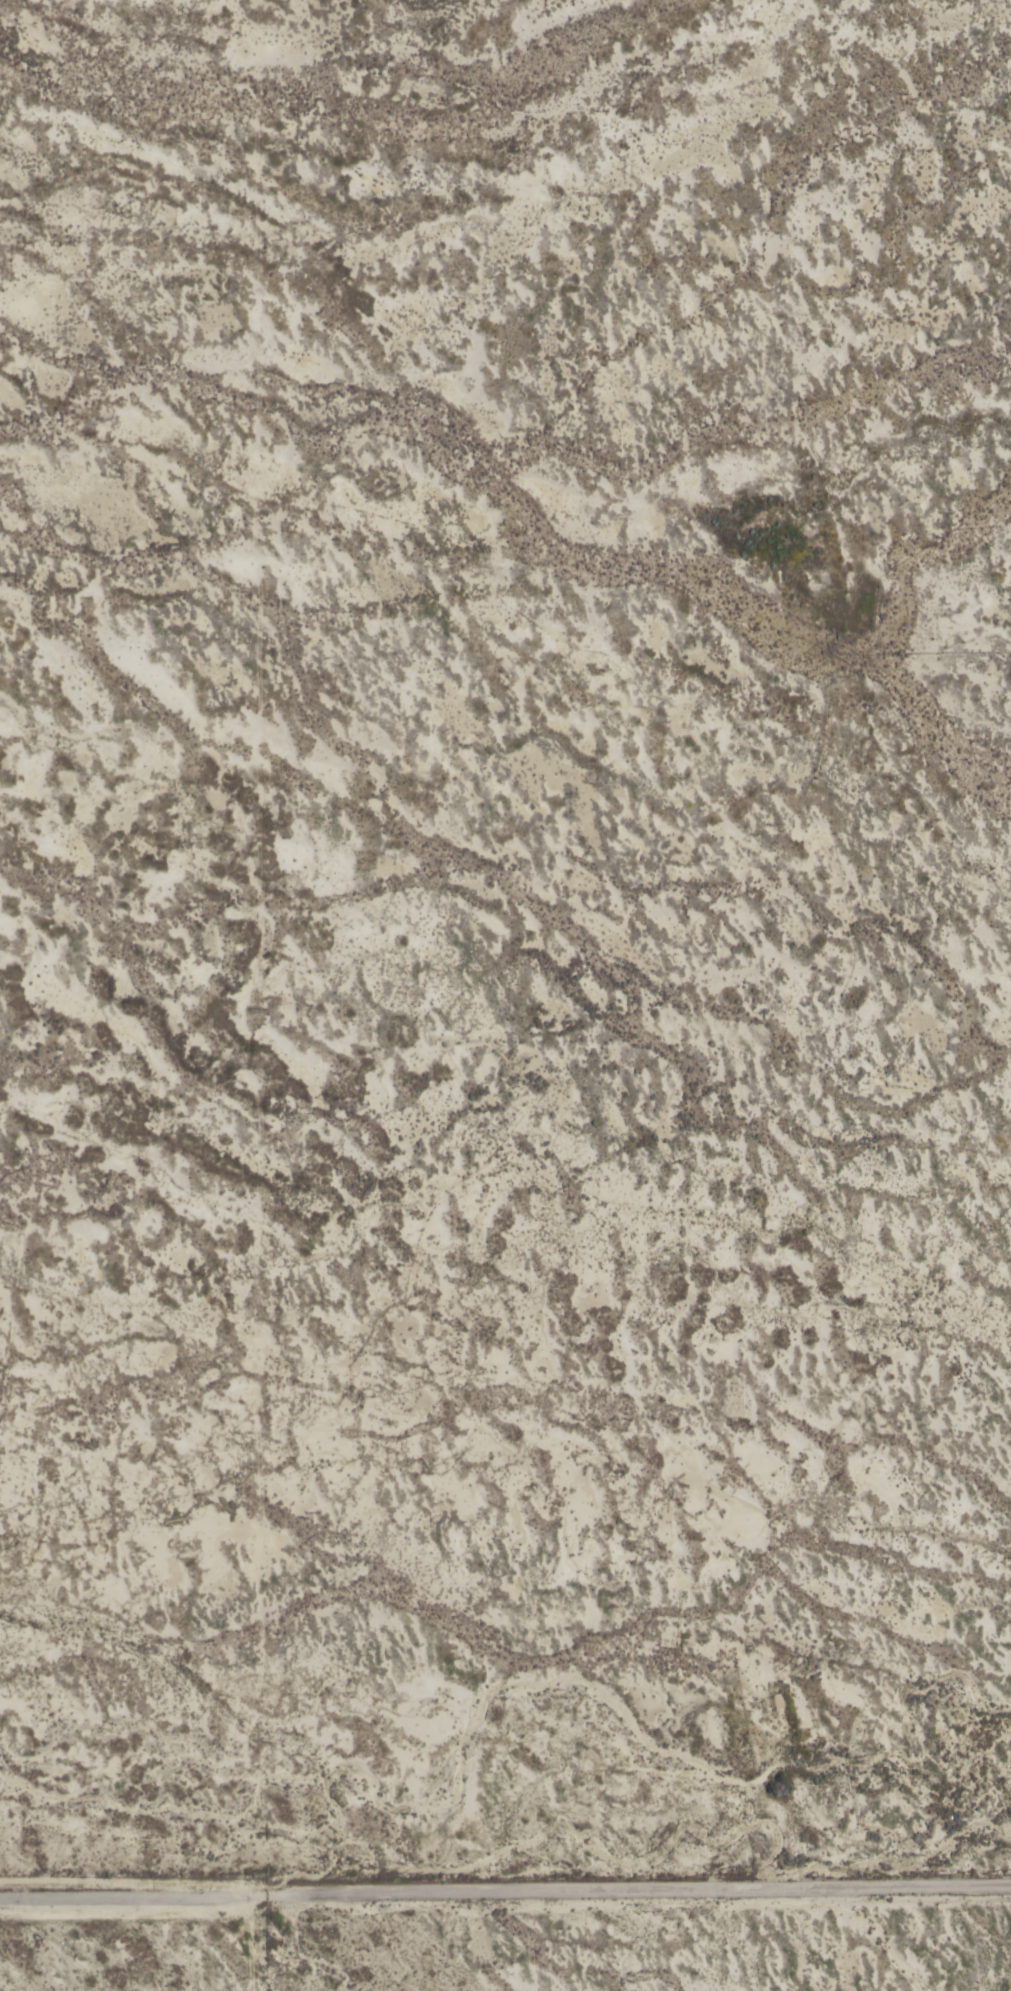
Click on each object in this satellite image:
road: (639, 1888)
road: (134, 1893)

